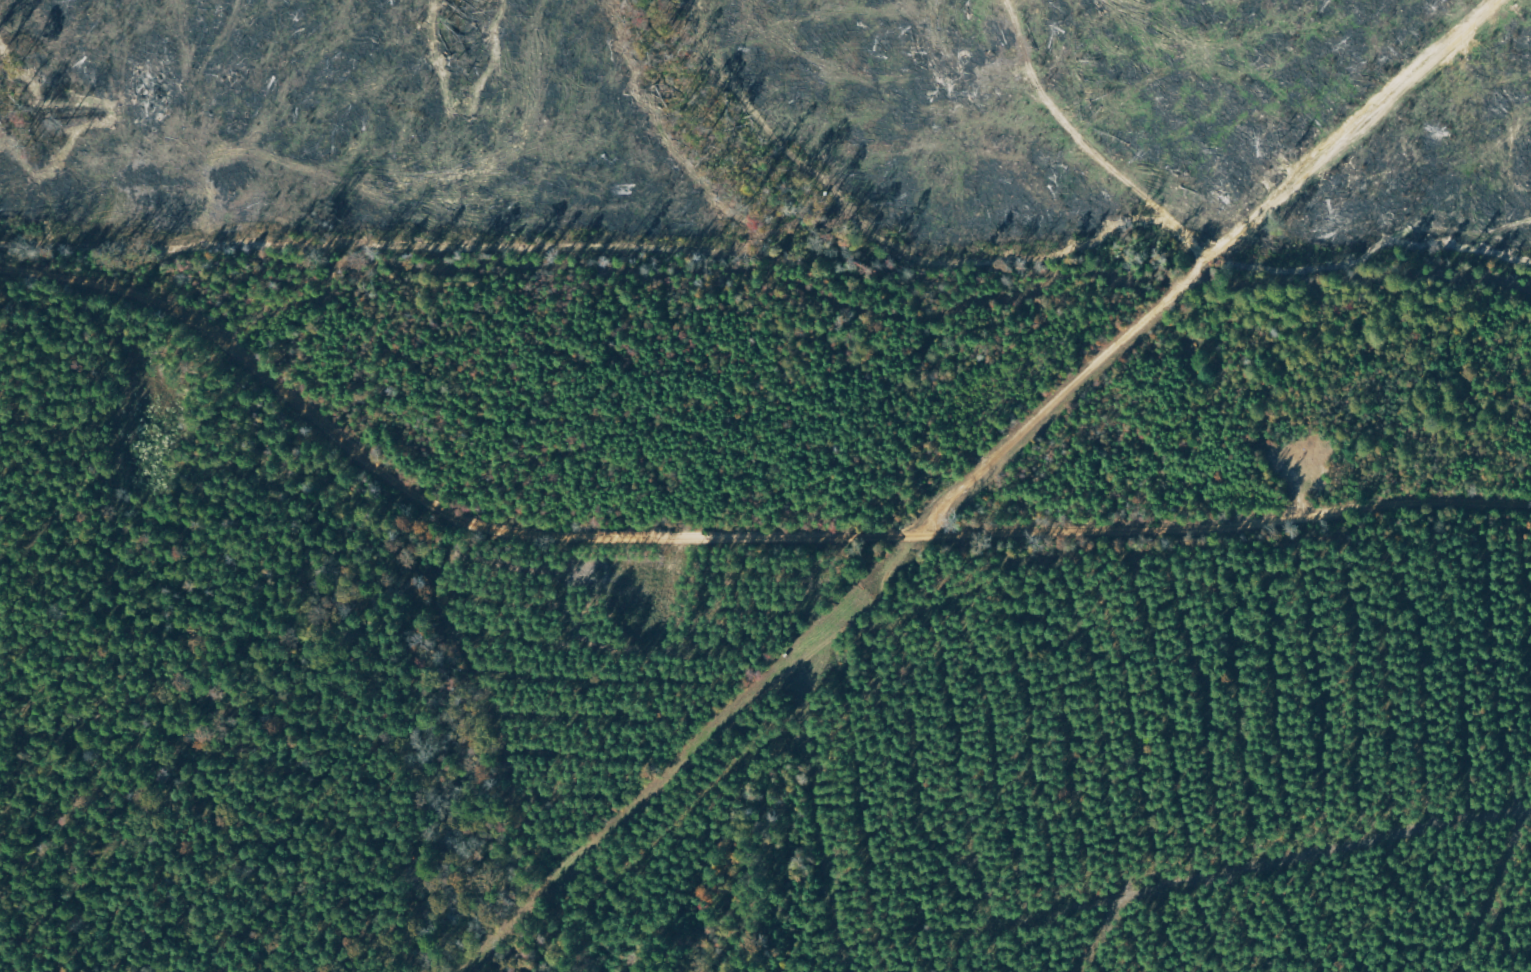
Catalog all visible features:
road: (1143, 236)
road: (738, 521)

